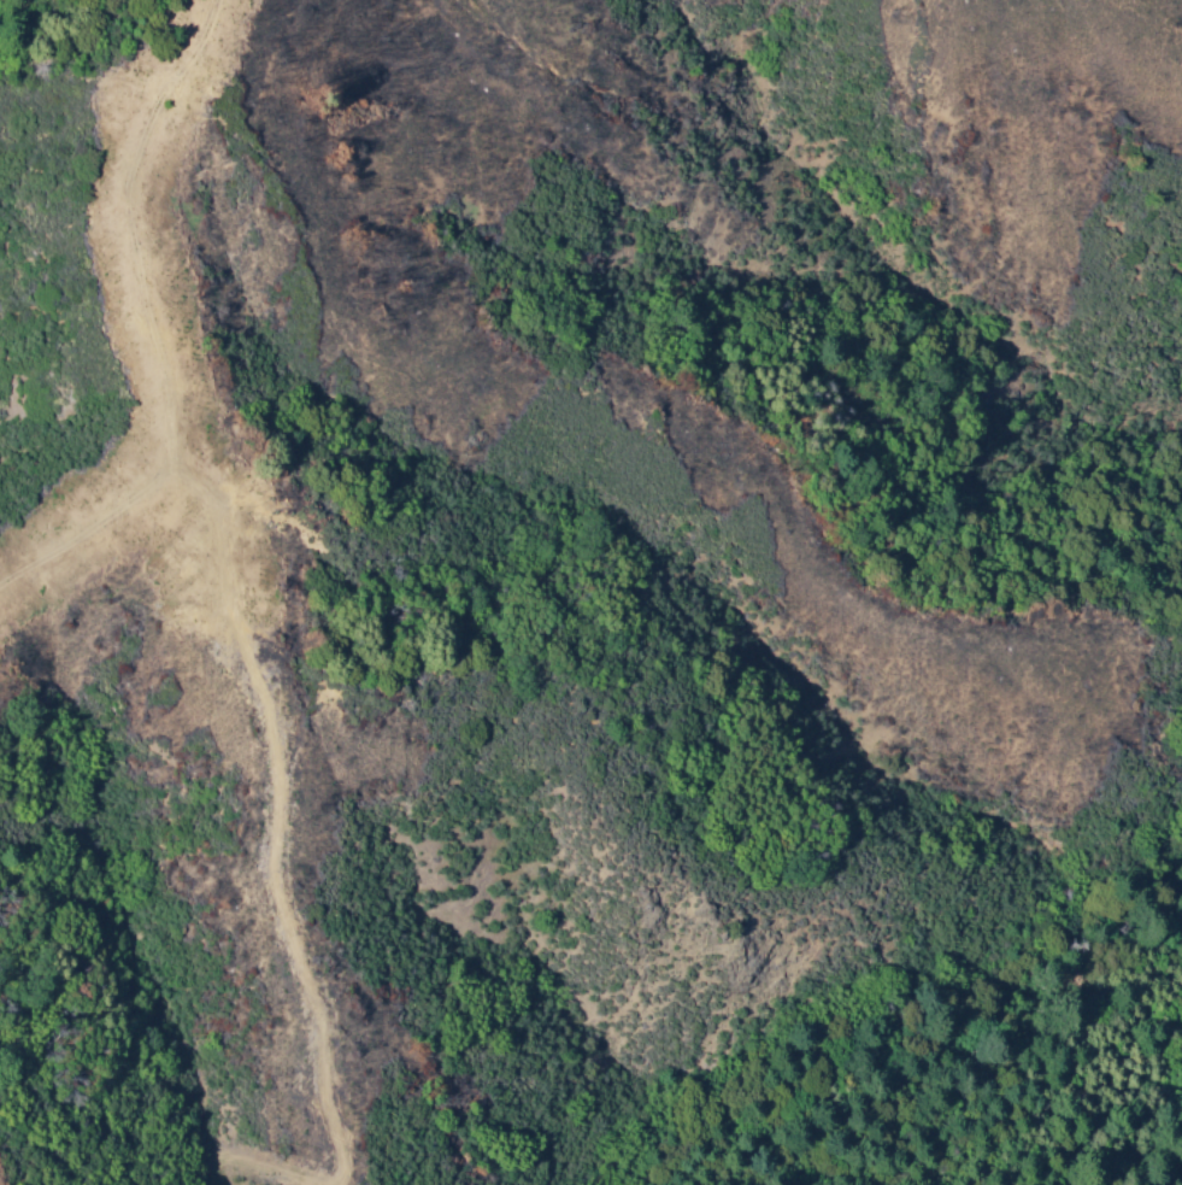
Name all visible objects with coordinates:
road: (222, 582)
road: (181, 1050)
road: (260, 1177)

